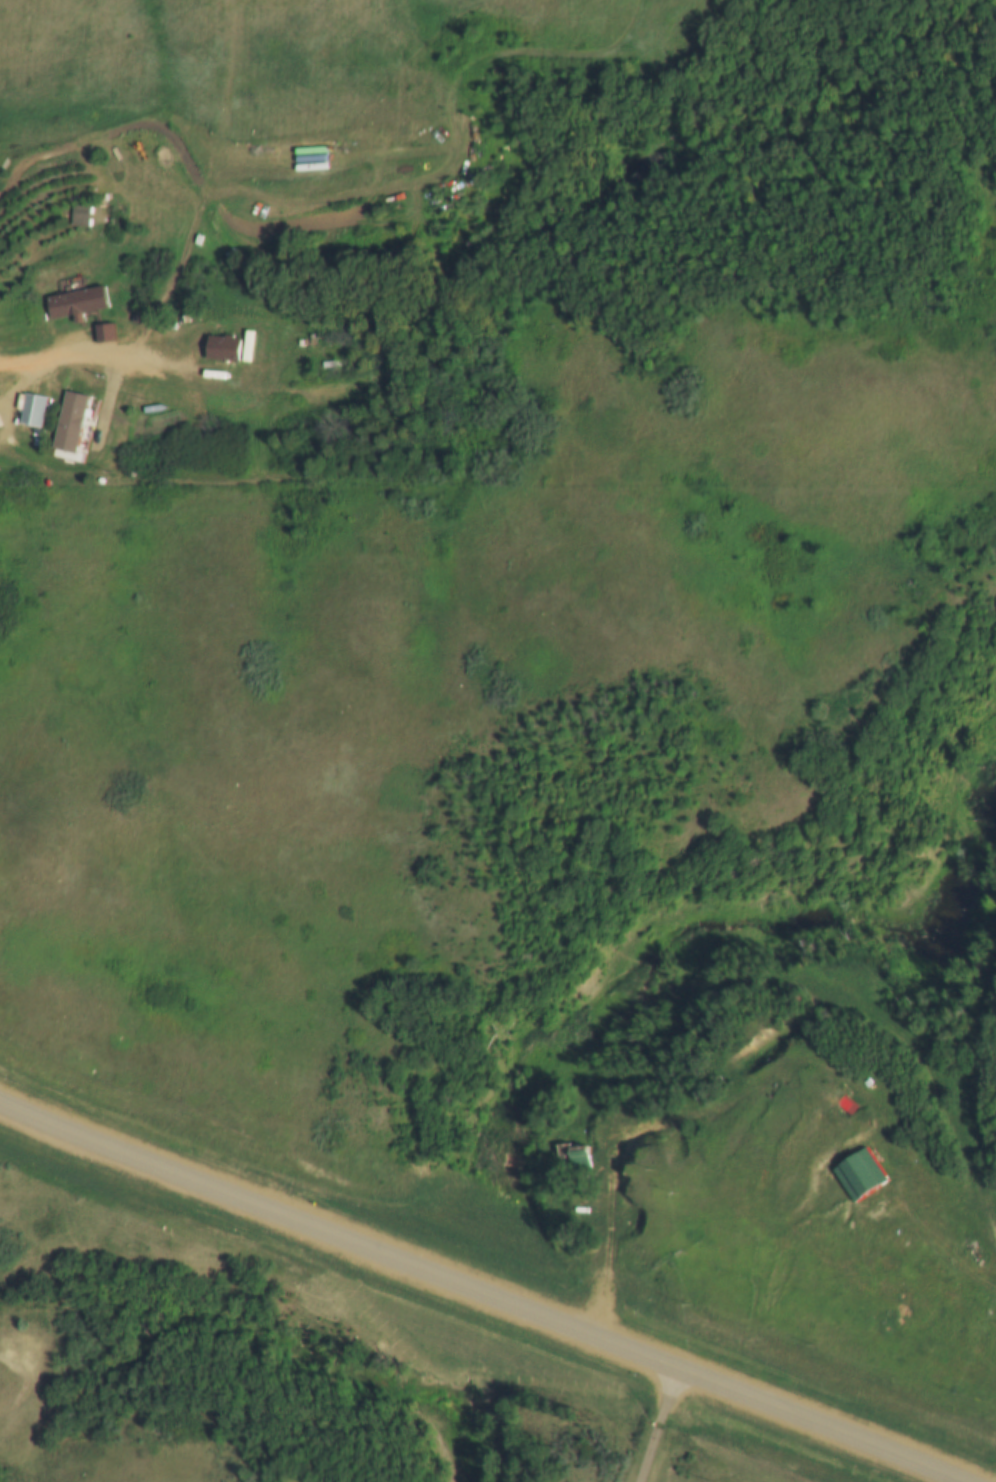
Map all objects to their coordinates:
road: (238, 205)
building: (77, 217)
building: (73, 305)
road: (98, 345)
building: (219, 350)
building: (30, 411)
building: (71, 420)
building: (62, 421)
road: (750, 1071)
building: (571, 1146)
building: (857, 1173)
road: (481, 1292)
road: (656, 1424)

